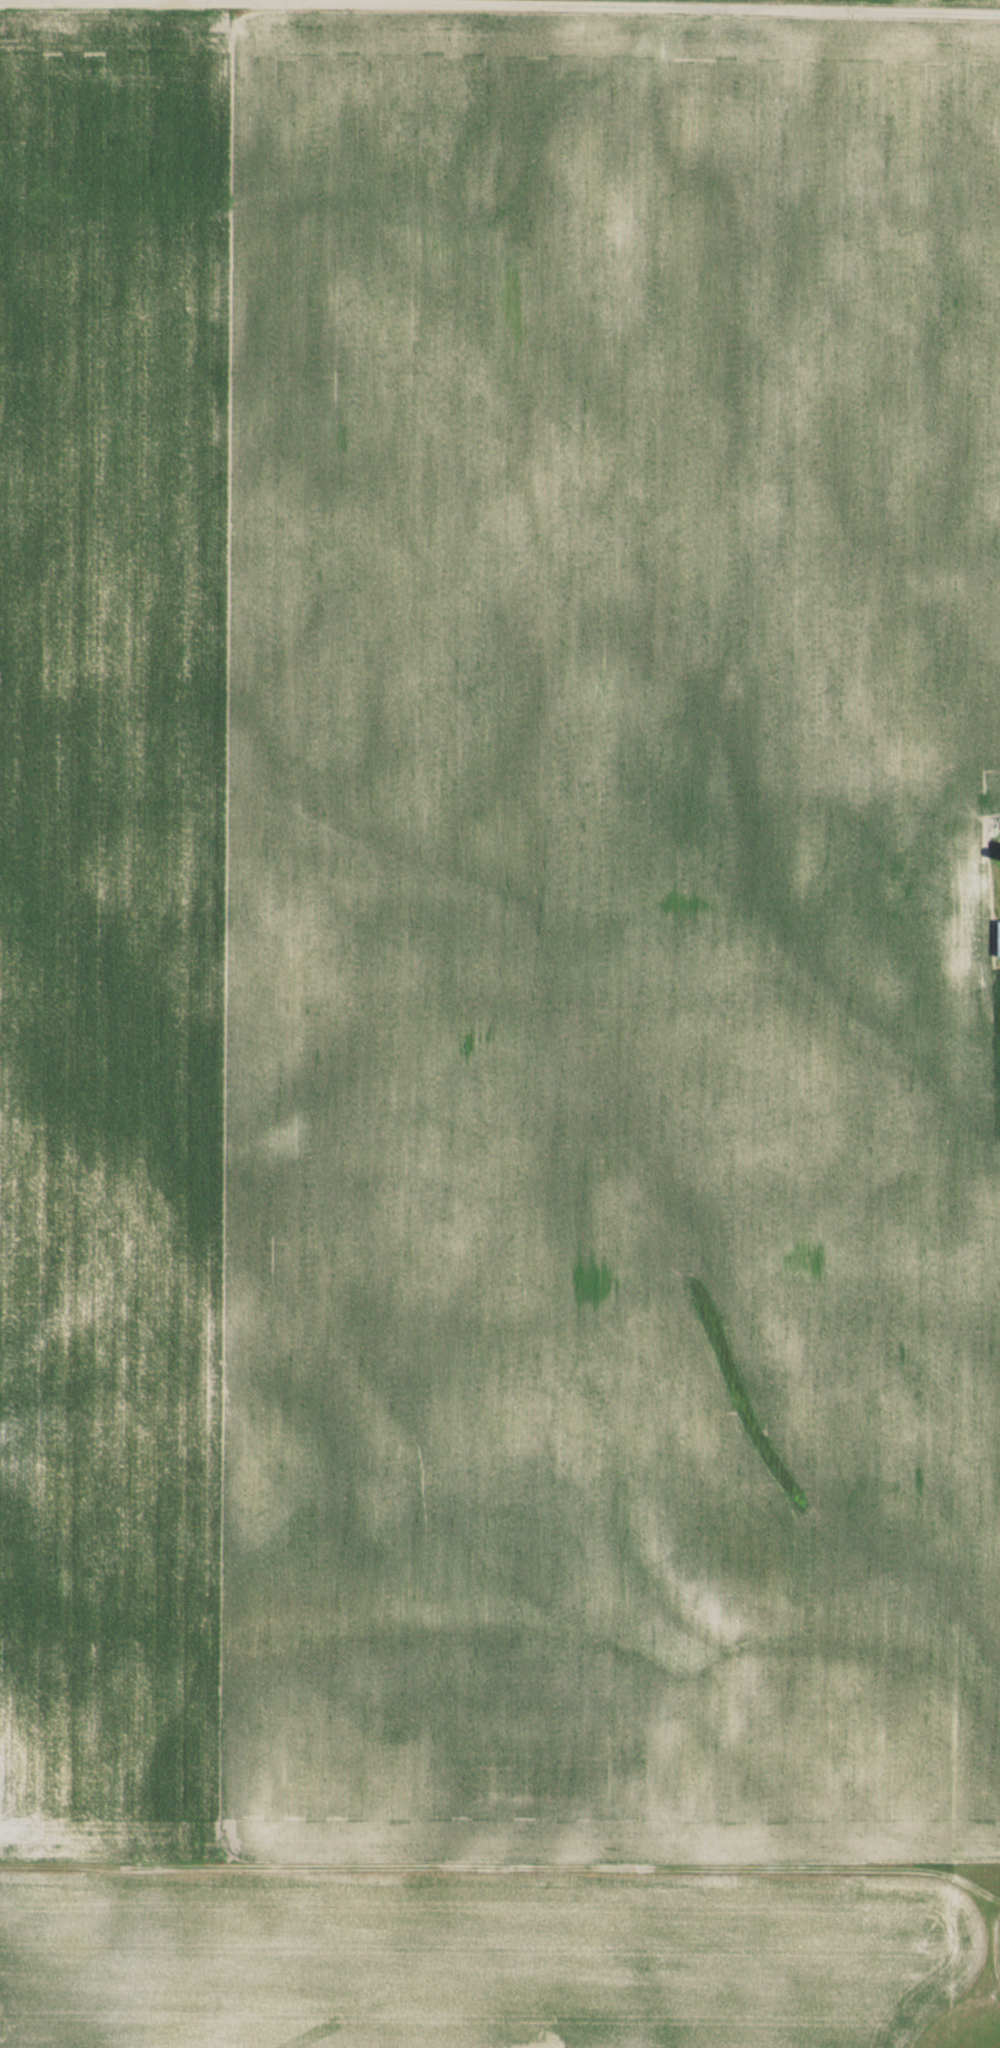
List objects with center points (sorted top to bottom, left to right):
road: (500, 10)
building: (999, 938)
road: (995, 1946)

